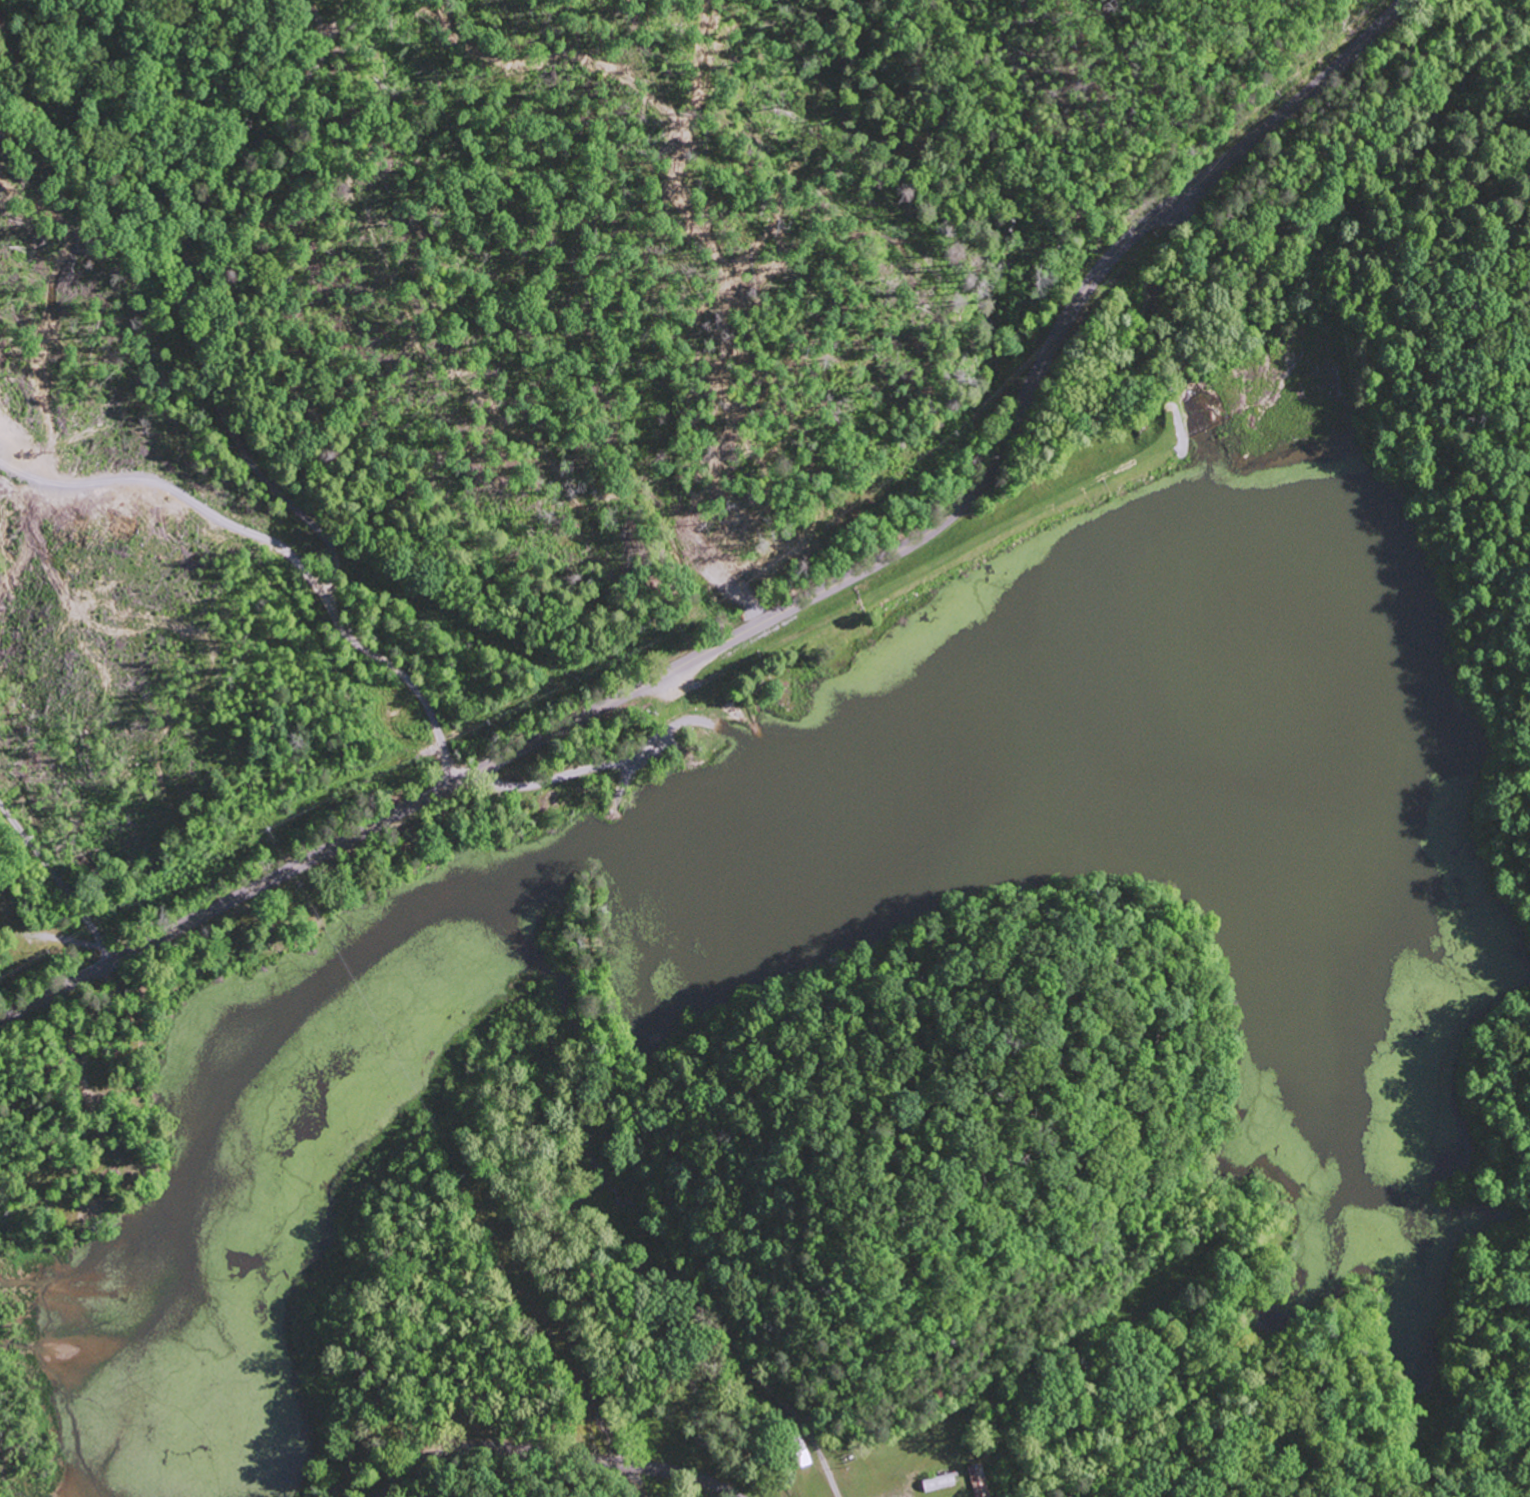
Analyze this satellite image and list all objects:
road: (244, 161)
road: (87, 180)
road: (1244, 269)
road: (1134, 291)
road: (256, 467)
road: (278, 551)
road: (747, 599)
road: (786, 610)
road: (594, 769)
road: (58, 885)
park: (7, 892)
building: (799, 1446)
road: (555, 1454)
building: (978, 1480)
building: (939, 1482)

